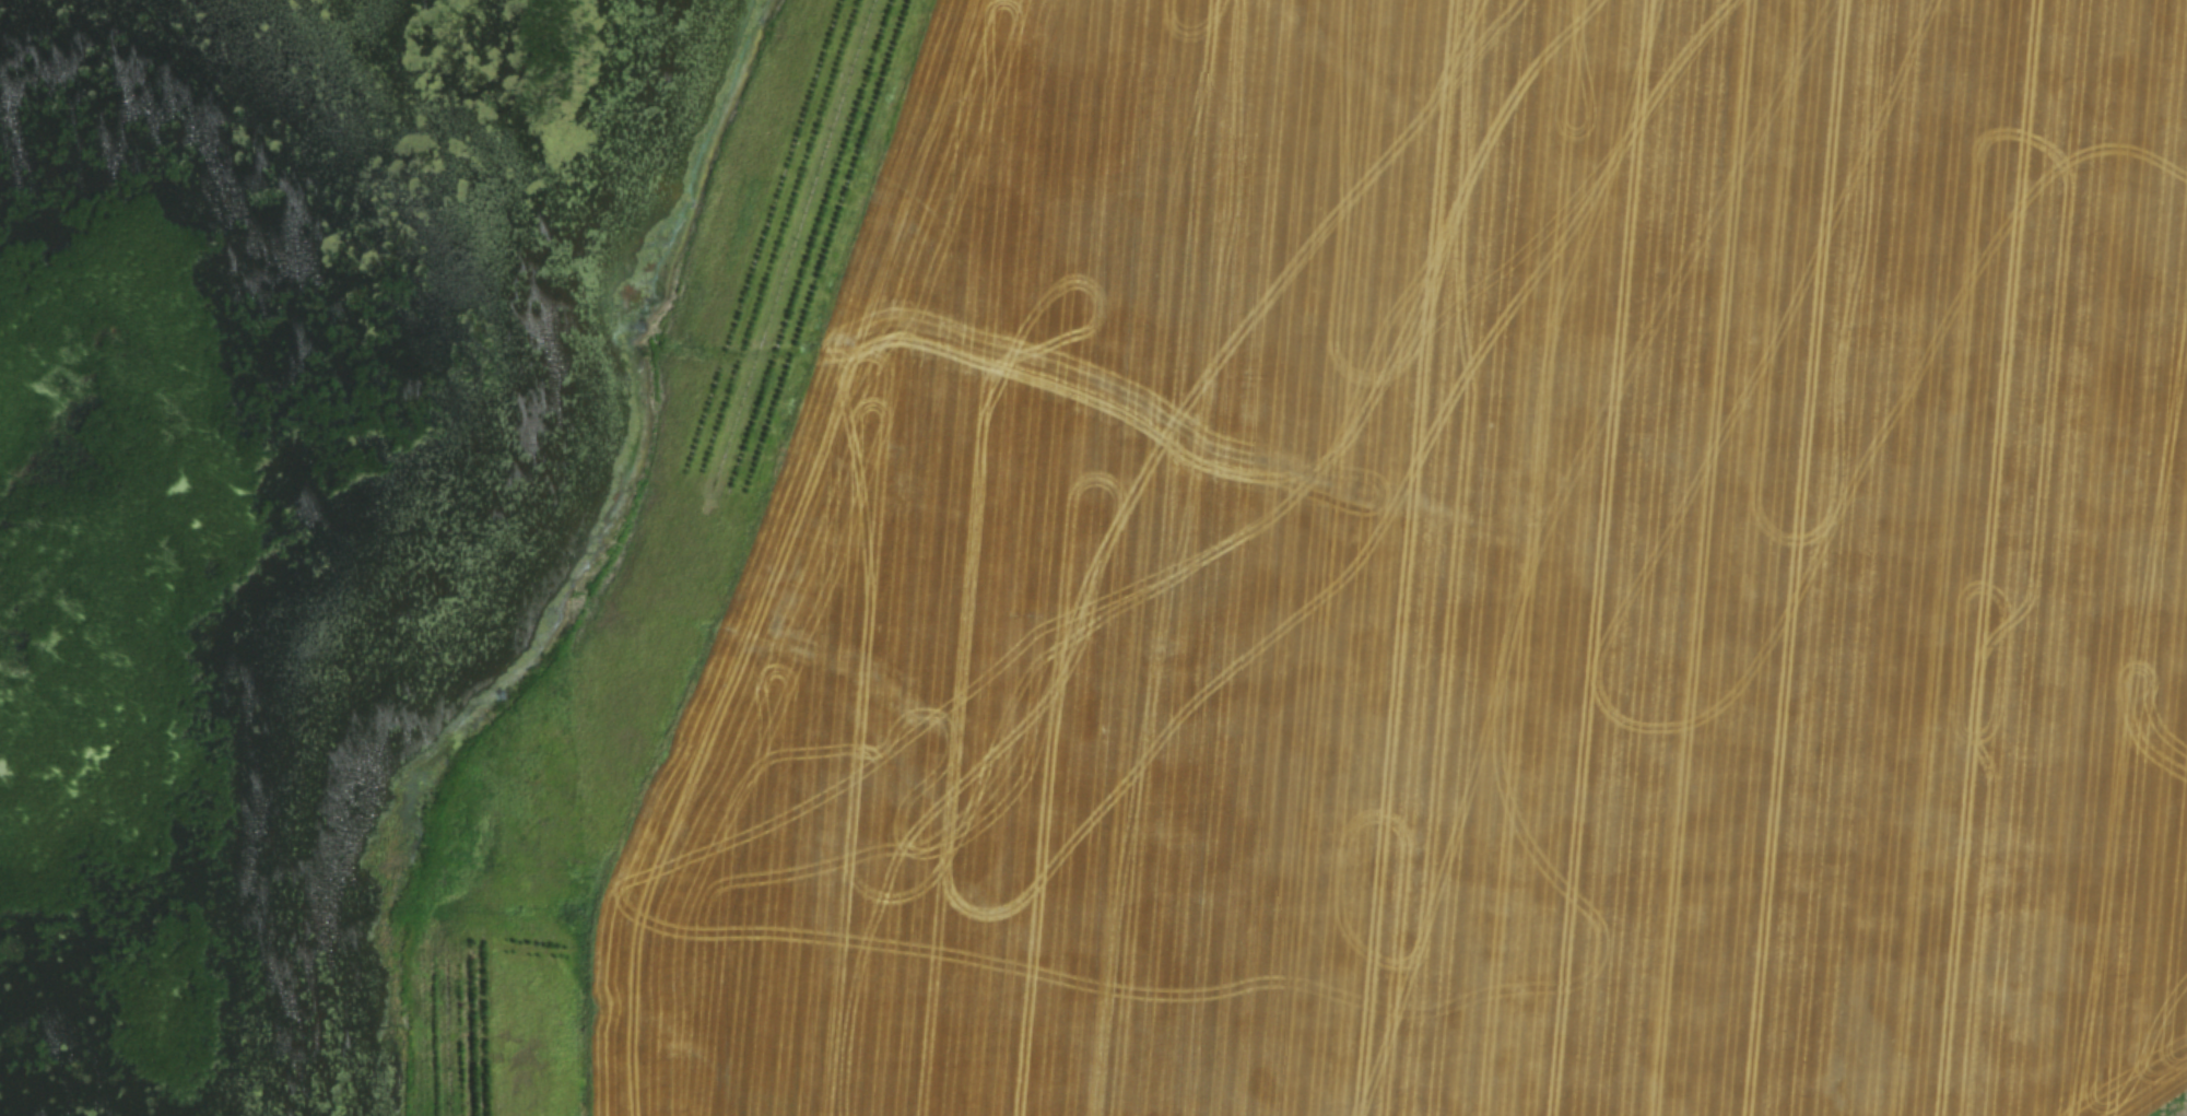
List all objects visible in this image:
crop: (1470, 584)

